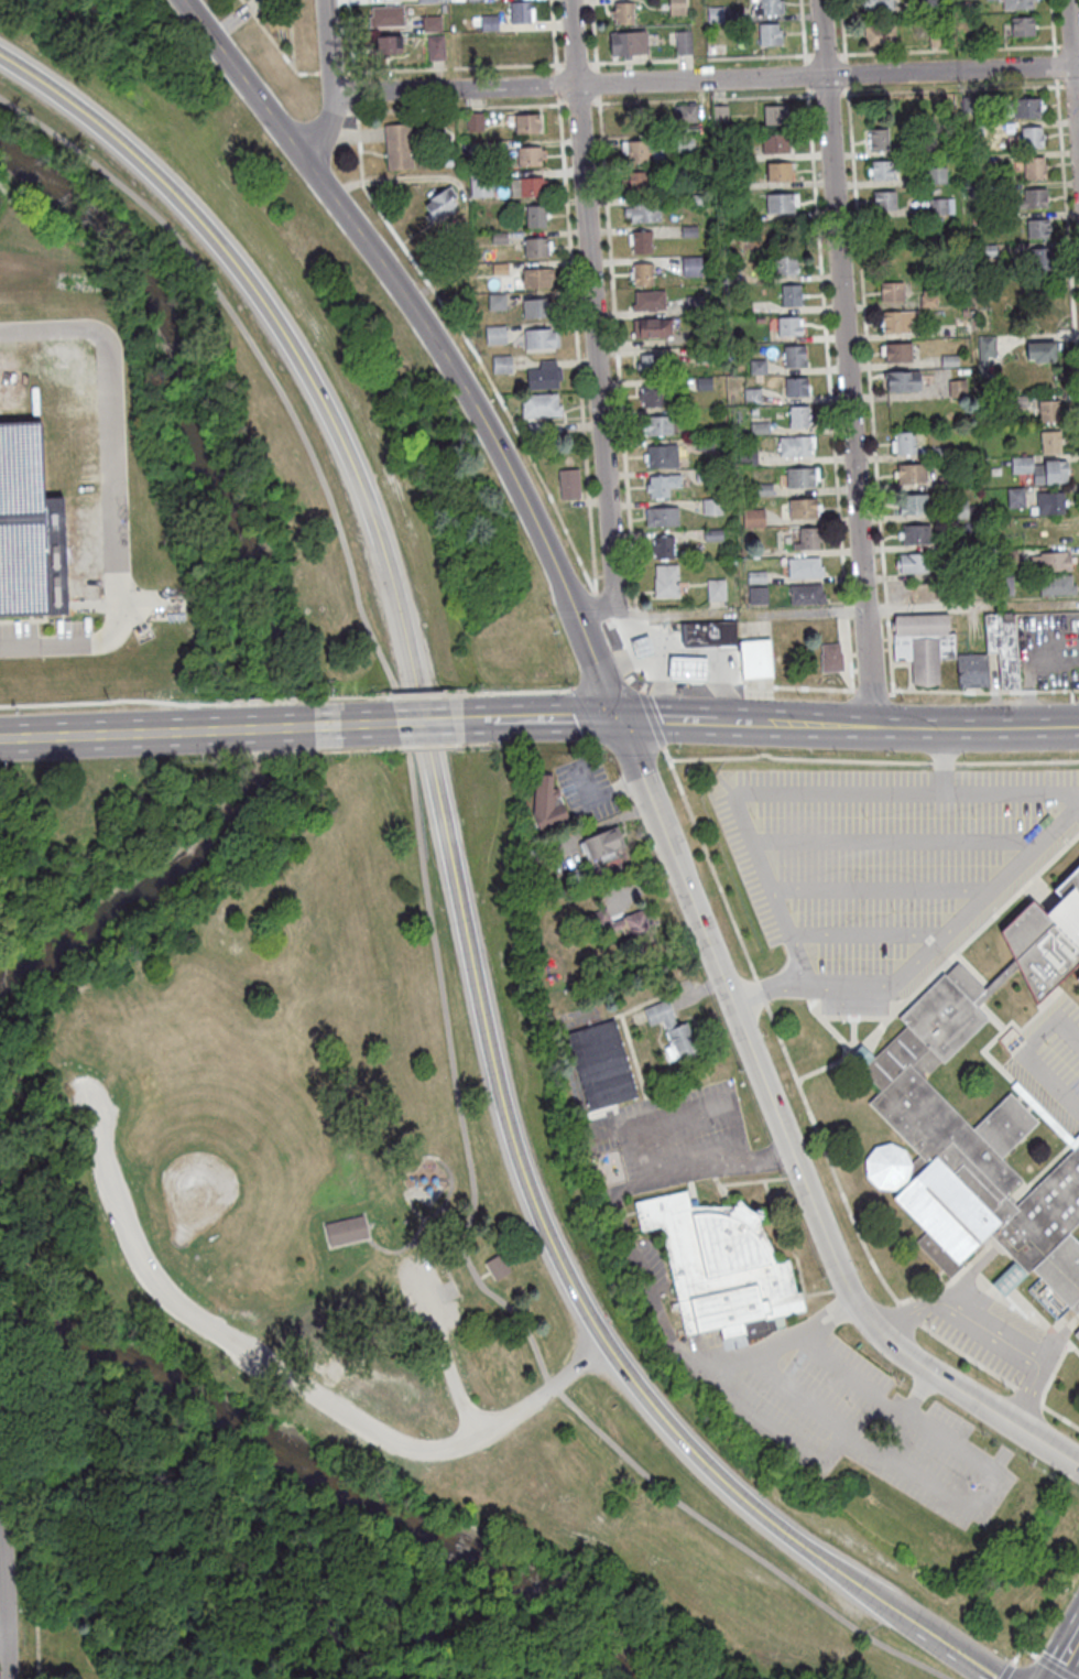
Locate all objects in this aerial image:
building: (430, 0)
building: (473, 0)
building: (268, 1)
building: (1017, 2)
building: (878, 3)
building: (677, 6)
building: (770, 6)
building: (927, 6)
building: (521, 10)
building: (624, 10)
building: (717, 13)
building: (386, 15)
building: (433, 21)
building: (490, 21)
road: (1051, 22)
building: (1023, 24)
road: (803, 26)
road: (842, 26)
road: (593, 31)
building: (770, 31)
road: (290, 32)
road: (553, 32)
building: (880, 33)
road: (350, 35)
road: (270, 36)
building: (935, 36)
building: (390, 40)
building: (629, 40)
road: (698, 40)
building: (685, 41)
building: (437, 45)
road: (1066, 45)
building: (525, 47)
road: (949, 48)
building: (468, 53)
road: (824, 53)
road: (700, 57)
road: (576, 63)
road: (1054, 65)
road: (455, 67)
road: (1072, 72)
road: (326, 73)
road: (846, 73)
road: (805, 74)
road: (704, 79)
road: (328, 83)
road: (597, 83)
road: (557, 84)
road: (1068, 85)
road: (355, 89)
road: (952, 89)
street lamp: (814, 91)
road: (827, 94)
road: (704, 98)
road: (578, 102)
building: (969, 102)
building: (1026, 105)
road: (458, 107)
building: (688, 111)
building: (720, 111)
building: (775, 111)
building: (476, 120)
building: (527, 121)
building: (974, 129)
building: (1032, 134)
building: (879, 139)
building: (776, 141)
building: (686, 142)
building: (399, 144)
building: (483, 147)
building: (639, 150)
building: (531, 154)
building: (448, 160)
building: (976, 161)
building: (1034, 166)
building: (781, 169)
building: (884, 169)
building: (693, 170)
building: (936, 174)
building: (636, 182)
building: (482, 183)
building: (533, 185)
building: (978, 189)
building: (1033, 197)
building: (885, 198)
building: (696, 199)
building: (440, 201)
building: (783, 202)
building: (940, 206)
building: (644, 212)
building: (536, 214)
building: (1038, 227)
building: (690, 230)
building: (500, 236)
building: (642, 240)
road: (1068, 242)
building: (537, 243)
building: (985, 250)
building: (443, 257)
building: (1040, 257)
building: (786, 262)
building: (691, 264)
building: (501, 267)
building: (643, 272)
building: (733, 274)
building: (537, 275)
street lamp: (857, 282)
building: (892, 289)
building: (792, 293)
building: (929, 296)
building: (650, 299)
building: (497, 300)
building: (1029, 302)
building: (695, 304)
building: (537, 305)
building: (964, 312)
road: (592, 317)
building: (898, 318)
building: (761, 319)
building: (789, 324)
building: (653, 325)
building: (497, 333)
building: (706, 334)
building: (542, 336)
road: (867, 346)
road: (577, 347)
road: (472, 348)
road: (827, 349)
building: (1042, 349)
building: (898, 350)
building: (987, 351)
road: (617, 355)
building: (704, 355)
building: (795, 355)
building: (950, 360)
building: (502, 361)
building: (650, 362)
road: (844, 364)
building: (759, 366)
building: (545, 373)
building: (903, 378)
building: (705, 382)
building: (797, 384)
building: (958, 387)
building: (652, 393)
building: (753, 396)
building: (1020, 401)
building: (542, 402)
building: (755, 409)
building: (1049, 409)
building: (716, 411)
building: (798, 414)
building: (660, 423)
building: (761, 427)
building: (1050, 440)
building: (905, 441)
building: (705, 442)
building: (797, 444)
building: (940, 452)
building: (663, 454)
building: (749, 455)
building: (1040, 467)
street lamp: (870, 468)
building: (912, 472)
building: (706, 474)
building: (803, 476)
park: (87, 479)
building: (570, 480)
building: (947, 481)
building: (663, 483)
building: (765, 489)
road: (112, 490)
building: (1016, 497)
building: (1050, 501)
building: (914, 502)
building: (712, 506)
building: (803, 507)
building: (959, 508)
building: (972, 511)
building: (663, 514)
park: (235, 516)
building: (754, 517)
building: (31, 529)
building: (1057, 532)
building: (713, 533)
building: (916, 533)
building: (808, 537)
building: (953, 542)
building: (663, 544)
building: (756, 553)
building: (1007, 559)
building: (1051, 560)
building: (733, 561)
building: (914, 561)
building: (805, 565)
building: (758, 575)
building: (668, 579)
building: (1057, 583)
building: (1017, 584)
river: (258, 585)
building: (717, 588)
building: (807, 592)
building: (759, 594)
road: (601, 606)
road: (914, 606)
road: (846, 609)
road: (886, 609)
road: (810, 610)
road: (635, 614)
road: (664, 615)
road: (621, 621)
road: (611, 633)
building: (709, 636)
parking lot: (44, 638)
building: (637, 644)
building: (1003, 644)
building: (924, 646)
road: (849, 653)
building: (832, 656)
road: (890, 656)
building: (754, 657)
road: (621, 660)
road: (683, 667)
building: (684, 667)
building: (973, 672)
road: (633, 684)
road: (720, 686)
road: (738, 686)
road: (758, 686)
road: (690, 687)
road: (660, 689)
road: (640, 690)
road: (925, 691)
road: (661, 693)
street lamp: (679, 693)
street lamp: (903, 701)
street lamp: (1078, 701)
road: (651, 717)
traffic signals: (615, 719)
road: (547, 721)
road: (684, 721)
road: (437, 723)
road: (381, 724)
road: (813, 725)
road: (341, 726)
road: (976, 727)
road: (261, 729)
road: (102, 735)
road: (628, 749)
street lamp: (677, 749)
street lamp: (837, 756)
road: (799, 758)
road: (941, 759)
street lamp: (964, 760)
road: (1018, 761)
road: (945, 762)
road: (808, 791)
building: (547, 802)
street lamp: (974, 816)
street lamp: (753, 817)
street lamp: (865, 817)
road: (445, 838)
road: (898, 839)
building: (603, 845)
parking lot: (874, 851)
road: (709, 860)
road: (884, 889)
street lamp: (791, 910)
street lamp: (894, 911)
building: (618, 925)
road: (953, 929)
road: (434, 935)
road: (870, 936)
building: (1078, 977)
road: (769, 988)
road: (762, 989)
street lamp: (772, 1001)
street lamp: (842, 1022)
building: (672, 1030)
street lamp: (766, 1035)
parking lot: (1065, 1049)
road: (1022, 1057)
building: (601, 1064)
building: (903, 1084)
road: (716, 1106)
park: (333, 1136)
park: (215, 1145)
road: (827, 1152)
road: (697, 1170)
road: (415, 1212)
road: (424, 1220)
parking lot: (126, 1225)
building: (347, 1227)
road: (414, 1244)
building: (719, 1264)
building: (498, 1265)
street lamp: (860, 1268)
road: (643, 1272)
road: (482, 1275)
road: (970, 1276)
road: (437, 1290)
parking lot: (426, 1292)
road: (906, 1311)
road: (959, 1311)
street lamp: (931, 1326)
parking lot: (990, 1332)
building: (1077, 1334)
road: (1051, 1351)
road: (444, 1353)
road: (968, 1355)
street lamp: (898, 1383)
road: (292, 1384)
street lamp: (1018, 1385)
road: (920, 1391)
road: (1029, 1394)
road: (798, 1395)
road: (1029, 1396)
road: (1061, 1417)
road: (889, 1459)
river: (330, 1485)
park: (508, 1539)
road: (4, 1620)
road: (2, 1636)
road: (948, 1644)
road: (1065, 1655)

